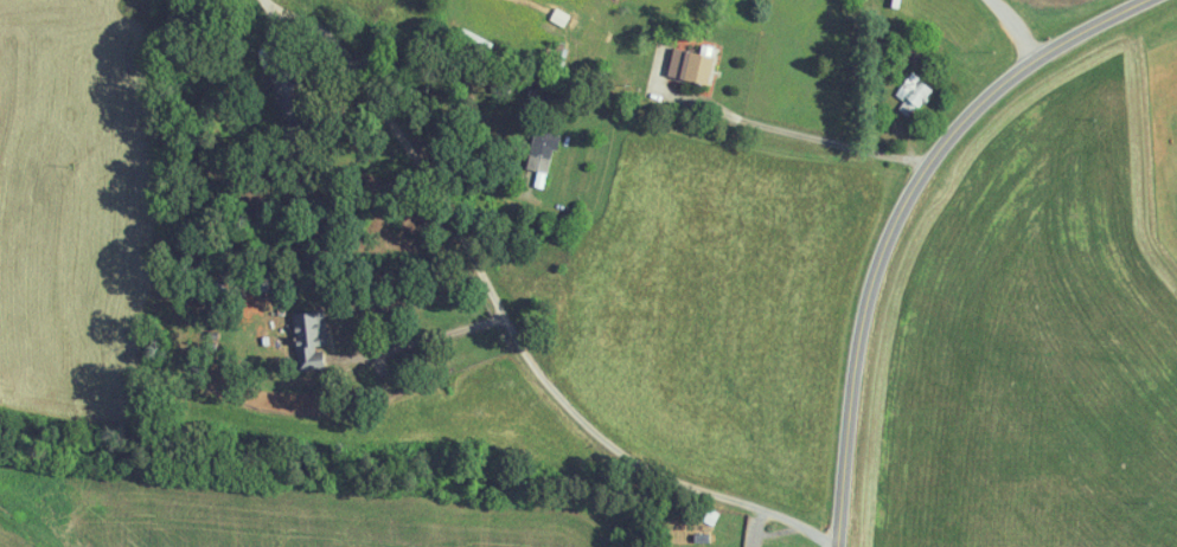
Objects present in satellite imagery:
road: (1006, 31)
building: (686, 69)
building: (910, 95)
road: (791, 131)
building: (542, 154)
road: (895, 214)
road: (507, 328)
building: (307, 337)
road: (423, 339)

